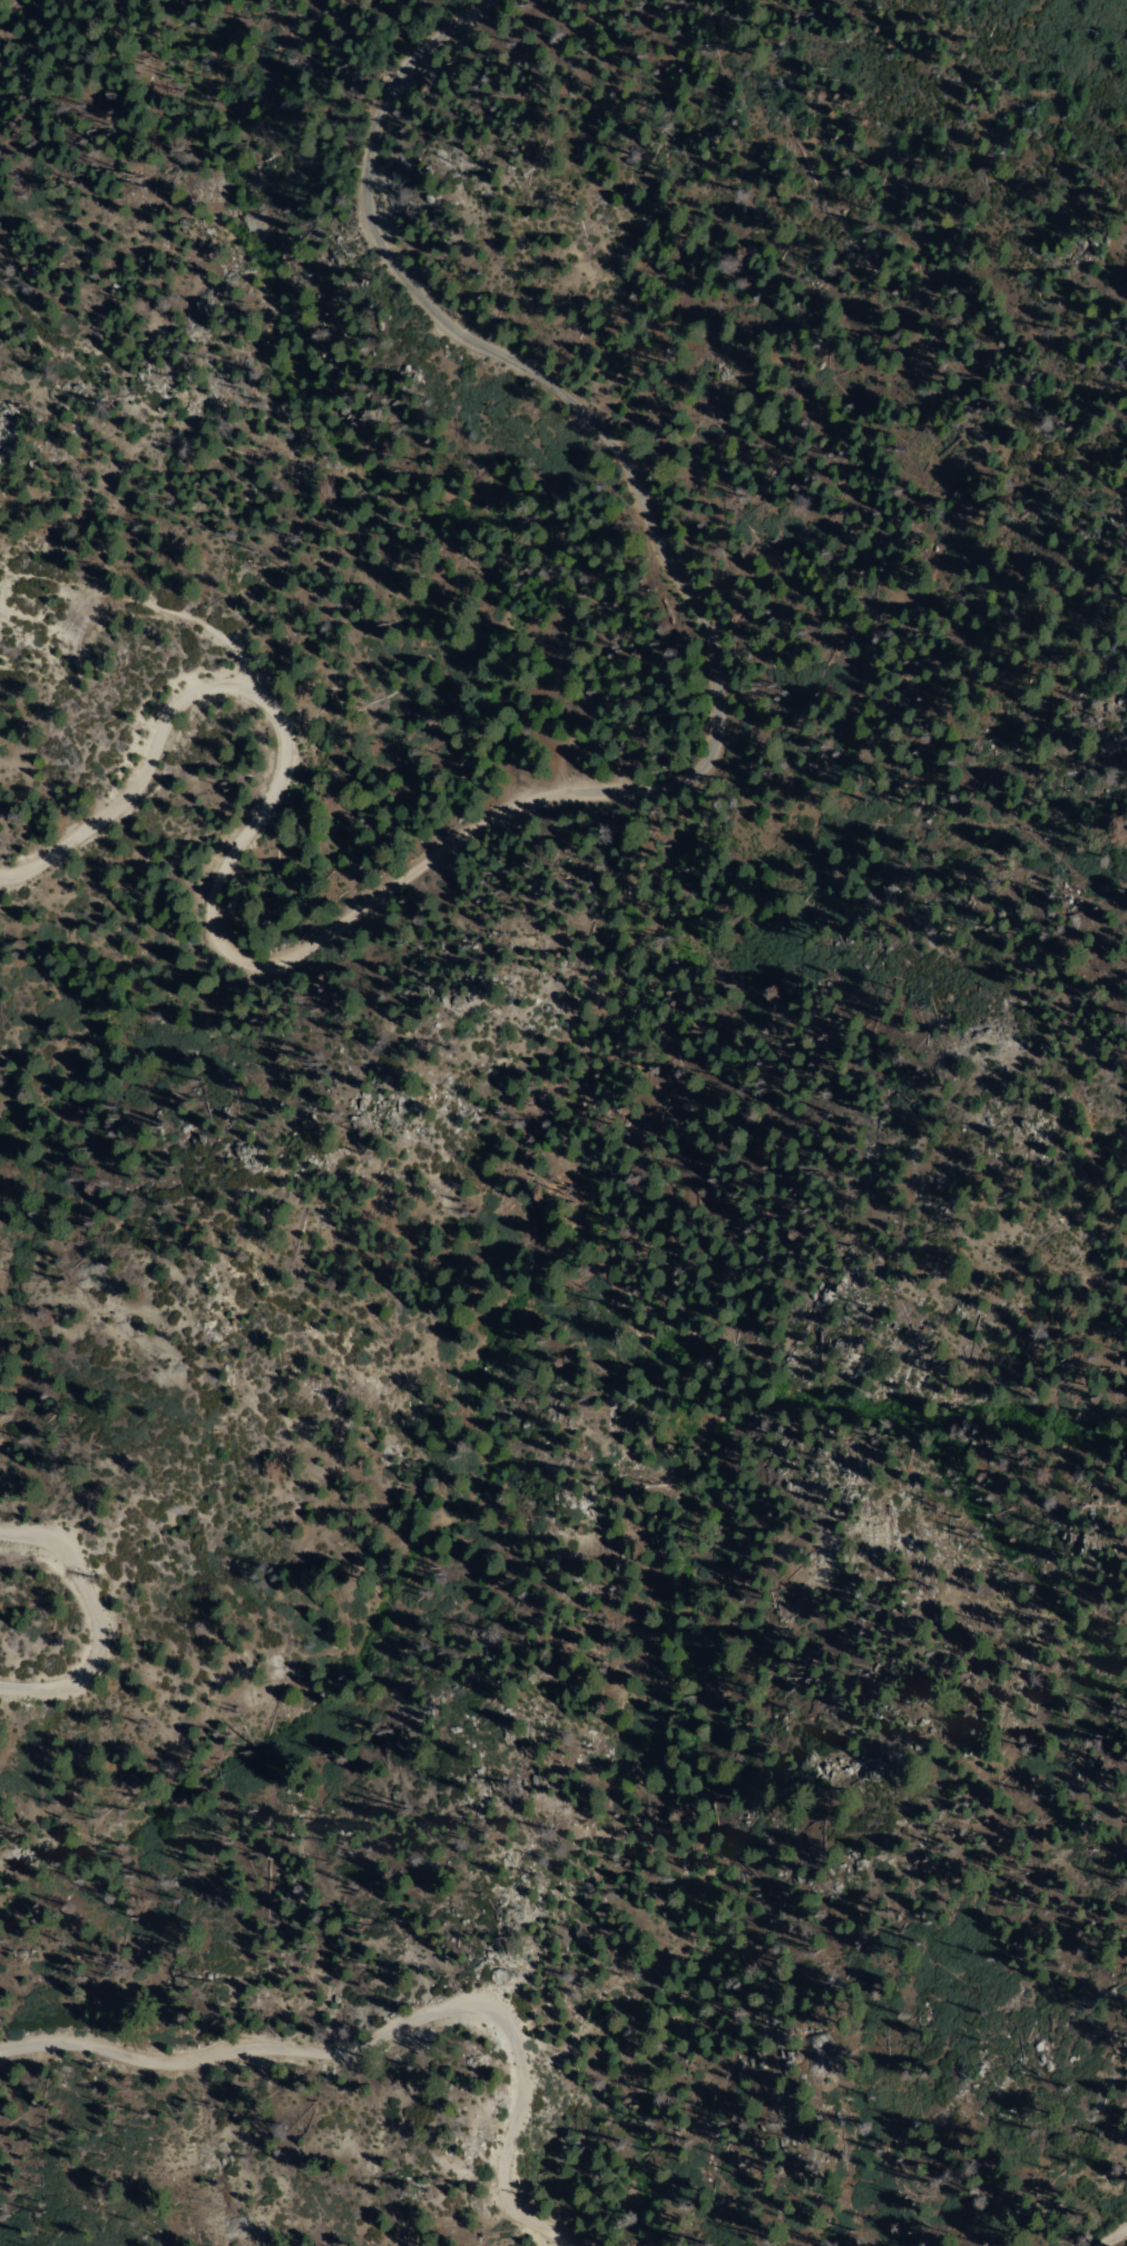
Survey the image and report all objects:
quarry: (45, 617)
road: (599, 793)
road: (105, 1624)
road: (374, 2028)
road: (1114, 2237)

